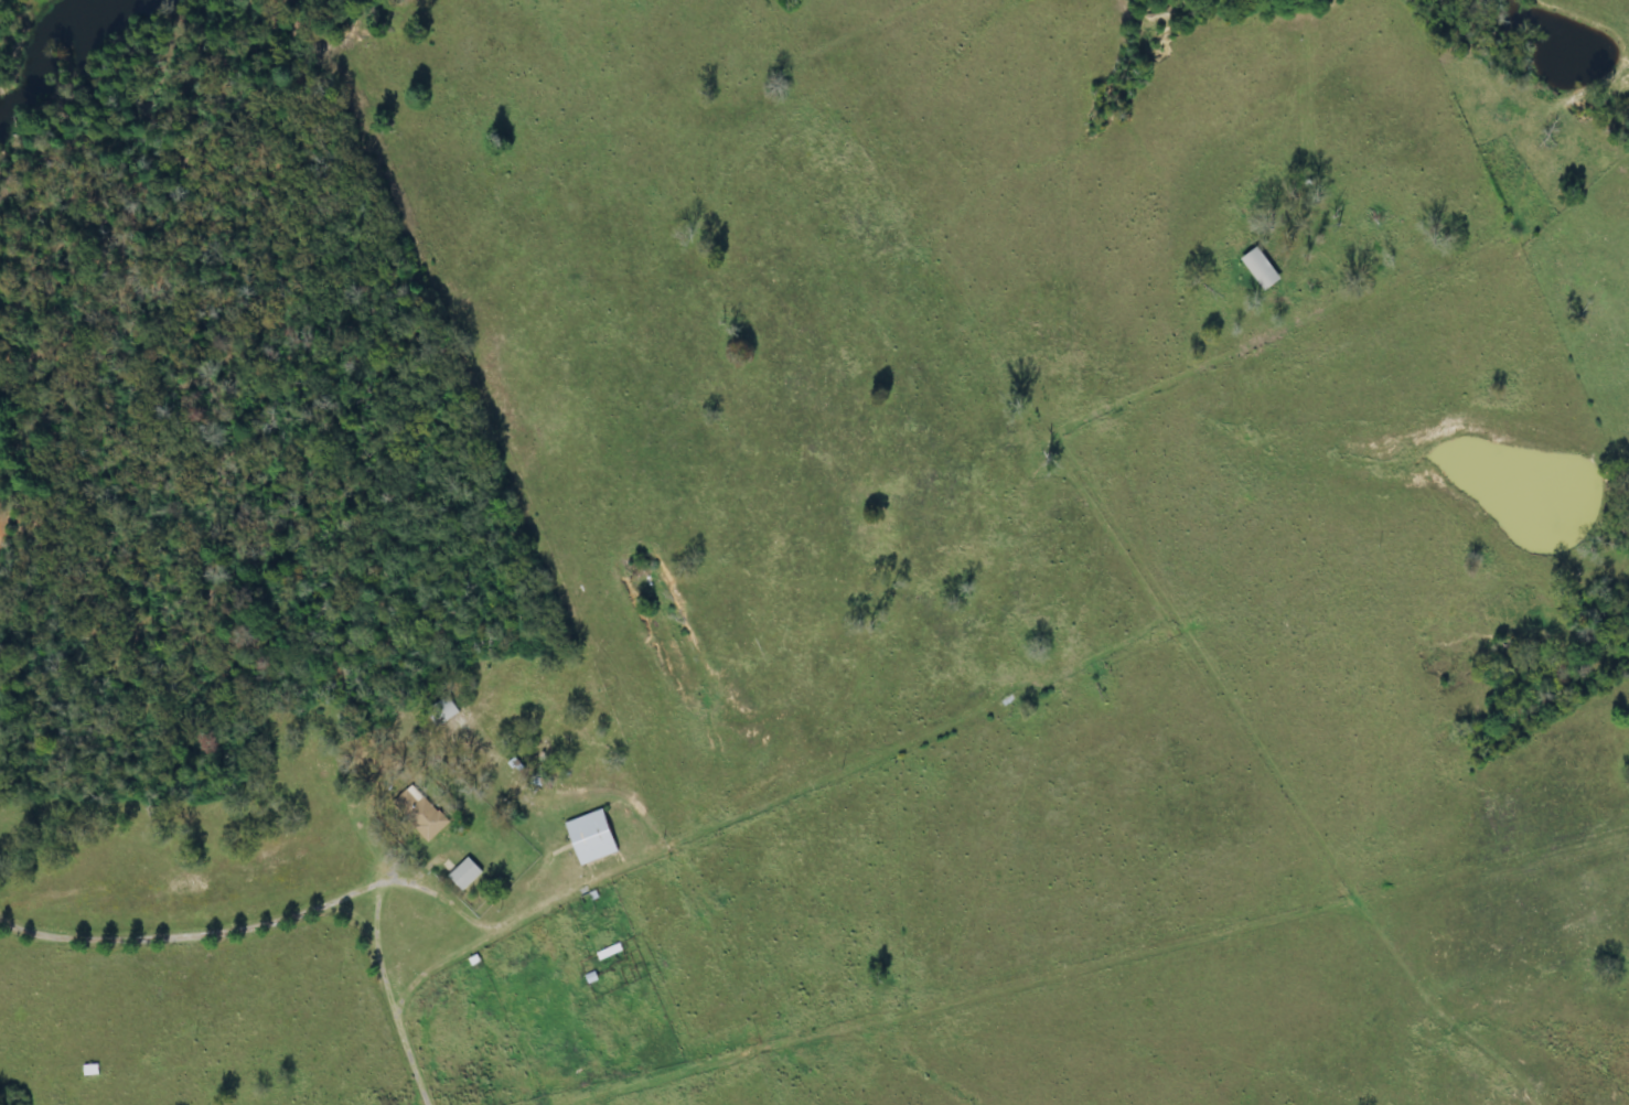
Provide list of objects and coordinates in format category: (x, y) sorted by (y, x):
road: (848, 691)
building: (442, 711)
building: (421, 814)
building: (591, 838)
building: (464, 875)

